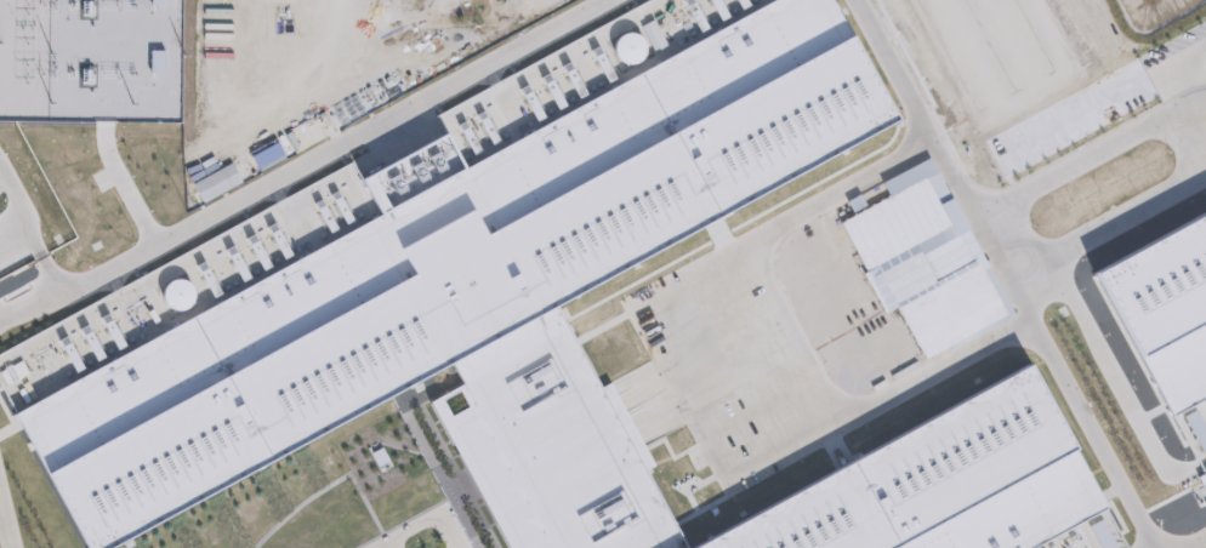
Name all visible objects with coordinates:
power substation: (92, 59)
road: (1185, 68)
road: (887, 73)
road: (307, 162)
road: (1082, 164)
road: (1139, 210)
road: (25, 234)
road: (715, 257)
building: (472, 299)
building: (1159, 316)
road: (1090, 443)
building: (944, 481)
road: (421, 519)
parking lot: (417, 530)
road: (2, 533)
road: (1195, 541)

